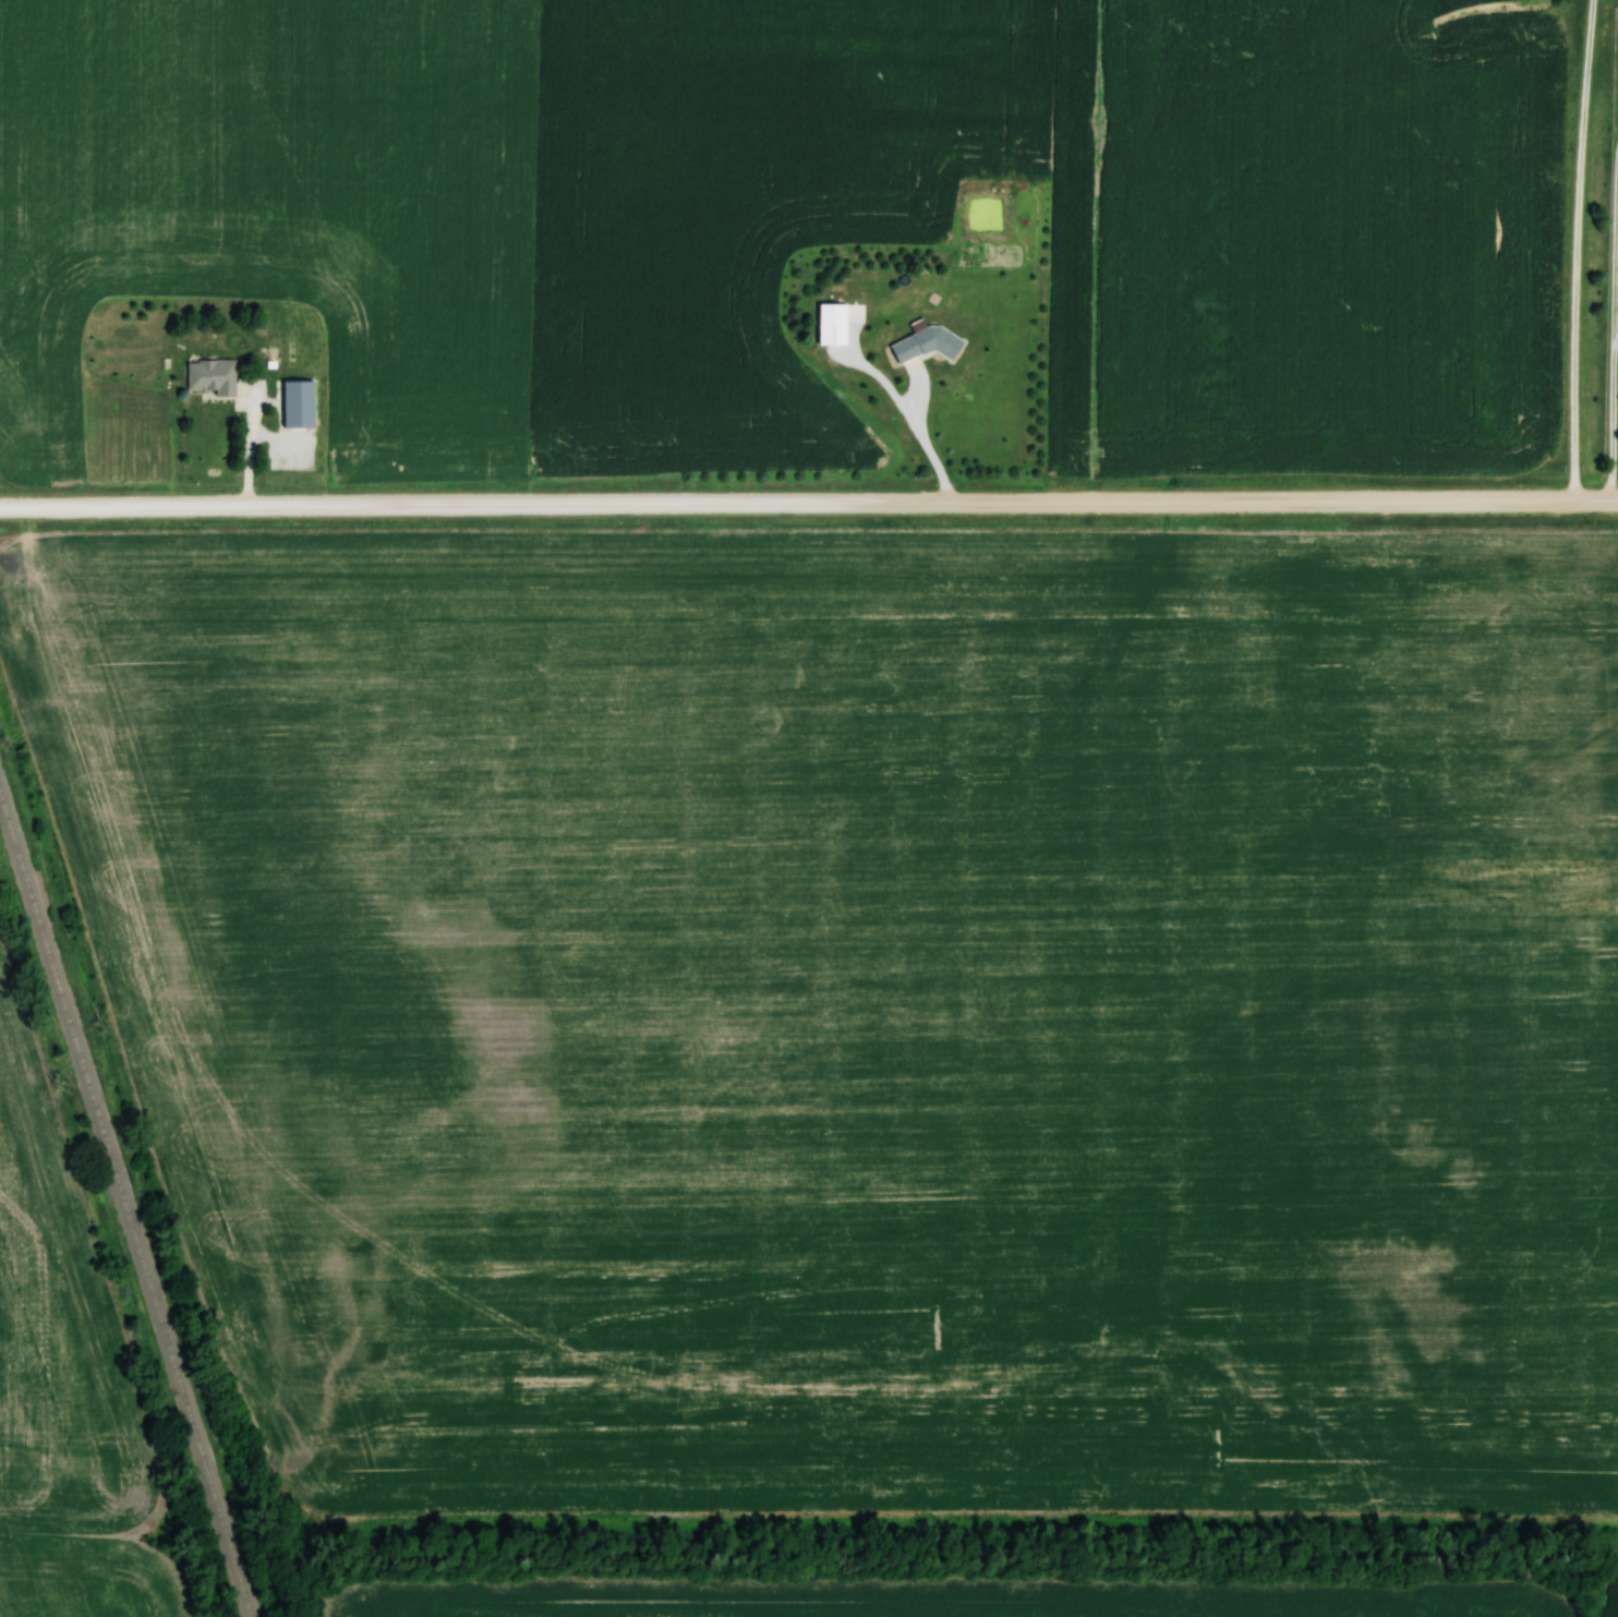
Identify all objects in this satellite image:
park: (1607, 251)
building: (831, 325)
building: (923, 343)
building: (213, 377)
building: (291, 407)
road: (923, 438)
road: (232, 442)
road: (1076, 499)
road: (312, 504)
road: (44, 505)
railway: (124, 1210)

